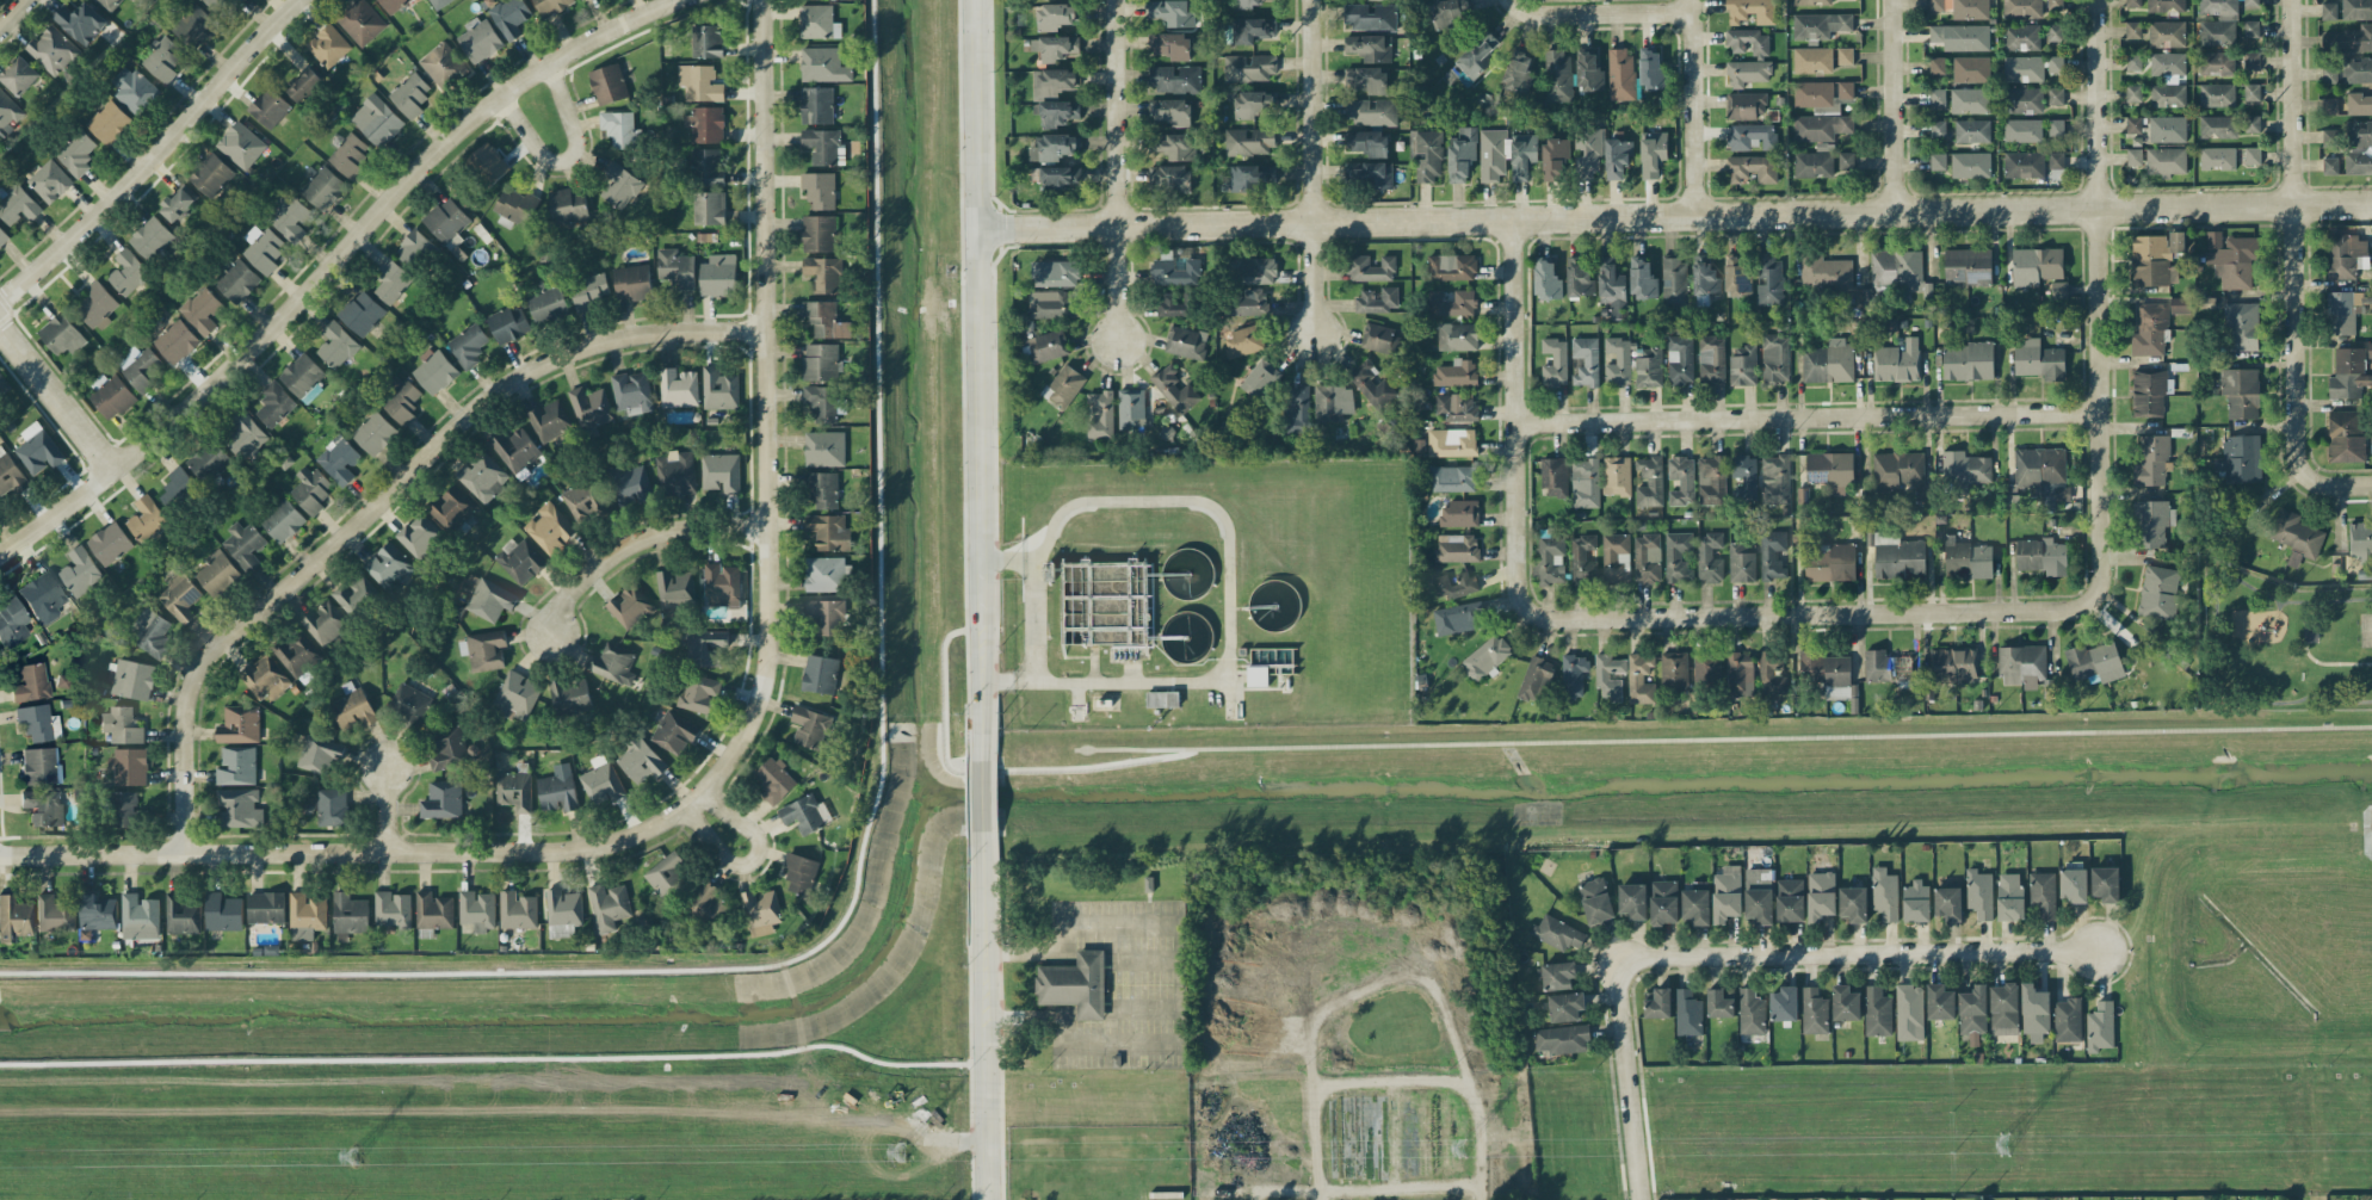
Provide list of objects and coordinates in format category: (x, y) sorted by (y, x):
building: (438, 2)
building: (2055, 2)
building: (2132, 2)
building: (2250, 2)
building: (109, 4)
building: (1246, 4)
building: (222, 5)
building: (393, 5)
building: (2164, 5)
building: (551, 6)
building: (1962, 8)
building: (2022, 8)
building: (2356, 8)
road: (1527, 10)
building: (1173, 11)
building: (1451, 11)
building: (1752, 11)
building: (2329, 11)
road: (12, 12)
road: (1619, 13)
building: (1055, 16)
building: (1370, 16)
building: (511, 17)
building: (81, 21)
building: (360, 21)
building: (817, 21)
building: (2218, 21)
building: (1820, 24)
road: (1897, 24)
building: (193, 25)
building: (2250, 27)
building: (1253, 29)
building: (2132, 29)
building: (2056, 32)
building: (2166, 33)
building: (1960, 37)
building: (2021, 37)
building: (480, 39)
building: (2349, 39)
building: (706, 41)
building: (1748, 41)
building: (328, 45)
building: (1170, 45)
building: (1055, 47)
building: (1370, 47)
building: (52, 49)
building: (1845, 55)
building: (162, 57)
building: (1812, 58)
building: (2251, 60)
building: (1471, 61)
building: (2132, 61)
building: (2217, 62)
building: (2056, 63)
building: (2167, 63)
building: (443, 64)
building: (823, 64)
building: (1936, 64)
building: (1249, 67)
building: (2022, 68)
building: (1971, 69)
building: (2356, 69)
building: (1518, 72)
building: (1651, 72)
building: (1747, 72)
building: (1589, 73)
building: (1620, 73)
building: (2329, 73)
building: (19, 74)
building: (1557, 75)
building: (1173, 78)
building: (1369, 79)
building: (1054, 81)
building: (699, 82)
building: (607, 83)
building: (304, 85)
building: (132, 89)
building: (2133, 92)
building: (2251, 92)
building: (410, 93)
building: (1821, 93)
building: (2168, 94)
building: (2217, 94)
building: (2055, 95)
building: (1938, 97)
building: (1970, 100)
building: (2024, 100)
building: (1255, 103)
building: (2359, 103)
building: (816, 104)
road: (2101, 104)
building: (1744, 105)
building: (2329, 105)
building: (268, 106)
road: (1699, 106)
building: (7, 110)
building: (1170, 111)
building: (1370, 111)
building: (1057, 112)
building: (376, 119)
building: (109, 122)
building: (2251, 123)
building: (705, 124)
building: (2133, 124)
building: (1821, 126)
building: (2056, 126)
building: (2218, 126)
building: (1938, 128)
building: (619, 129)
road: (1901, 129)
building: (2167, 129)
building: (1971, 130)
building: (2022, 130)
building: (2358, 132)
building: (1752, 136)
building: (2329, 137)
building: (1247, 141)
building: (1369, 143)
building: (241, 144)
building: (824, 146)
building: (1054, 146)
building: (1175, 146)
building: (76, 151)
building: (1587, 153)
building: (1653, 153)
building: (350, 154)
building: (1460, 154)
road: (155, 155)
building: (1491, 155)
building: (1522, 155)
building: (2251, 155)
road: (567, 156)
building: (1428, 156)
building: (1555, 156)
building: (1617, 157)
building: (2217, 157)
building: (2056, 159)
building: (1846, 160)
building: (1938, 160)
building: (2158, 160)
building: (2358, 161)
building: (488, 162)
road: (2293, 162)
building: (1814, 163)
building: (2024, 163)
building: (1970, 165)
building: (2330, 165)
building: (706, 167)
road: (1310, 167)
building: (1753, 167)
road: (1118, 171)
building: (211, 174)
building: (1373, 174)
building: (1061, 177)
building: (1172, 177)
building: (1252, 177)
building: (50, 180)
building: (619, 185)
building: (322, 187)
building: (819, 188)
building: (17, 203)
building: (178, 203)
road: (2237, 204)
building: (513, 205)
building: (568, 206)
building: (709, 206)
road: (1540, 216)
building: (289, 217)
building: (446, 219)
building: (819, 233)
building: (2, 236)
building: (150, 237)
building: (414, 248)
building: (265, 249)
building: (2343, 253)
building: (2157, 258)
building: (2231, 259)
building: (2037, 264)
road: (333, 266)
building: (1452, 266)
building: (1968, 266)
building: (675, 267)
building: (1371, 268)
building: (1253, 270)
building: (128, 272)
building: (1055, 272)
building: (1175, 272)
building: (1824, 272)
building: (1894, 272)
building: (824, 273)
building: (718, 274)
building: (1705, 274)
building: (1737, 276)
building: (1579, 277)
building: (1643, 279)
building: (1768, 279)
building: (237, 280)
building: (391, 280)
building: (1548, 280)
building: (1674, 280)
building: (632, 282)
building: (1611, 286)
building: (2059, 289)
building: (591, 290)
building: (1378, 299)
building: (548, 302)
building: (1246, 302)
building: (1453, 302)
building: (1050, 303)
building: (2181, 304)
building: (95, 305)
building: (1174, 305)
building: (202, 309)
building: (2343, 310)
building: (362, 311)
building: (824, 318)
building: (507, 323)
building: (2241, 326)
building: (2150, 329)
building: (62, 334)
building: (1458, 336)
building: (1380, 338)
building: (175, 340)
building: (1243, 340)
building: (1186, 341)
building: (468, 344)
building: (336, 345)
building: (1045, 346)
building: (2370, 348)
building: (1774, 357)
building: (1711, 358)
building: (2039, 359)
building: (820, 360)
building: (1586, 360)
building: (1680, 360)
building: (1968, 360)
building: (1555, 361)
building: (1618, 361)
building: (1897, 361)
building: (1827, 363)
building: (1743, 365)
building: (1648, 366)
building: (141, 367)
building: (434, 371)
building: (1456, 372)
building: (2348, 372)
building: (301, 373)
road: (978, 378)
building: (1260, 378)
building: (2, 383)
building: (1372, 384)
building: (1063, 385)
building: (678, 386)
building: (719, 388)
building: (1174, 388)
road: (60, 389)
building: (632, 390)
building: (2150, 391)
building: (2240, 391)
building: (111, 395)
building: (402, 401)
building: (821, 402)
building: (1333, 402)
road: (2293, 402)
building: (274, 403)
road: (2104, 404)
building: (1457, 407)
building: (589, 408)
building: (1131, 408)
building: (1296, 409)
building: (1100, 414)
road: (1520, 414)
road: (1812, 415)
road: (764, 417)
building: (549, 420)
building: (373, 432)
building: (246, 435)
building: (2346, 435)
building: (1452, 441)
building: (38, 449)
building: (515, 449)
building: (824, 449)
building: (338, 458)
building: (2241, 459)
building: (209, 460)
building: (2151, 460)
building: (2039, 465)
building: (1896, 469)
building: (1831, 470)
building: (1965, 470)
building: (721, 471)
building: (675, 472)
building: (10, 475)
building: (1617, 475)
building: (482, 476)
building: (1555, 476)
building: (1452, 477)
building: (1743, 477)
building: (1775, 478)
building: (1681, 480)
building: (1711, 480)
building: (1649, 481)
building: (1585, 482)
road: (2337, 483)
building: (629, 484)
building: (177, 485)
building: (310, 488)
building: (822, 488)
building: (2062, 491)
building: (1923, 493)
building: (583, 499)
road: (385, 500)
building: (451, 508)
building: (1459, 513)
building: (147, 518)
building: (283, 520)
building: (2150, 522)
building: (550, 528)
building: (829, 531)
building: (419, 534)
building: (2297, 536)
road: (637, 539)
building: (2360, 539)
building: (110, 542)
building: (243, 544)
building: (1456, 546)
building: (1771, 555)
building: (1897, 555)
building: (2041, 555)
building: (1678, 556)
building: (1582, 557)
building: (1647, 557)
building: (1709, 557)
building: (519, 558)
building: (1550, 558)
building: (1616, 558)
building: (1966, 558)
building: (1742, 562)
building: (1831, 563)
building: (388, 567)
building: (80, 570)
building: (217, 573)
building: (824, 574)
building: (722, 583)
road: (1228, 583)
building: (1453, 584)
building: (675, 587)
wastewater plant: (1204, 592)
building: (2158, 592)
building: (356, 594)
building: (43, 595)
building: (180, 596)
building: (487, 596)
building: (1104, 602)
road: (2279, 605)
building: (630, 606)
road: (1814, 611)
building: (828, 616)
building: (1458, 617)
building: (12, 620)
road: (1033, 620)
building: (325, 621)
road: (2217, 629)
park: (2366, 629)
building: (153, 631)
building: (705, 647)
building: (487, 649)
building: (297, 652)
building: (1485, 656)
road: (2314, 657)
building: (2095, 661)
building: (612, 663)
building: (1954, 664)
building: (2021, 664)
building: (1706, 667)
building: (1674, 670)
building: (1772, 672)
building: (820, 673)
building: (1740, 673)
building: (1828, 673)
building: (1574, 674)
building: (1256, 675)
building: (1602, 675)
building: (264, 678)
building: (1641, 678)
building: (132, 679)
building: (1536, 679)
building: (31, 681)
building: (699, 693)
building: (568, 694)
building: (515, 695)
building: (1162, 698)
building: (408, 705)
building: (351, 706)
building: (38, 720)
building: (122, 724)
building: (239, 724)
building: (810, 726)
building: (673, 734)
road: (1722, 737)
building: (445, 747)
building: (319, 753)
building: (640, 759)
building: (38, 765)
building: (129, 765)
building: (236, 766)
building: (774, 779)
building: (601, 780)
building: (557, 788)
building: (514, 790)
river: (1120, 794)
road: (983, 797)
building: (441, 799)
building: (43, 806)
building: (332, 806)
road: (387, 806)
building: (237, 808)
building: (125, 809)
building: (803, 814)
road: (345, 849)
road: (752, 859)
building: (799, 872)
building: (668, 874)
building: (2106, 883)
building: (2074, 884)
building: (1884, 892)
building: (1979, 892)
building: (1727, 893)
building: (2043, 893)
building: (1821, 895)
building: (2009, 897)
building: (1595, 899)
building: (1633, 899)
building: (1790, 899)
building: (1664, 901)
building: (1916, 901)
building: (1948, 902)
building: (708, 903)
building: (1697, 903)
building: (1854, 903)
building: (1759, 904)
building: (609, 905)
building: (266, 907)
building: (393, 909)
building: (477, 909)
building: (432, 910)
building: (517, 910)
building: (760, 910)
building: (97, 911)
building: (223, 911)
building: (563, 911)
building: (55, 913)
building: (350, 913)
building: (180, 915)
building: (307, 915)
building: (138, 916)
building: (14, 917)
building: (1557, 933)
road: (1858, 953)
building: (1558, 975)
road: (1178, 979)
building: (1074, 984)
building: (1940, 1001)
building: (1846, 1002)
building: (1656, 1003)
building: (1719, 1003)
building: (1784, 1003)
building: (1565, 1006)
building: (2003, 1008)
building: (1814, 1010)
building: (1877, 1010)
building: (1688, 1012)
building: (1752, 1012)
building: (1909, 1012)
building: (1973, 1012)
building: (2034, 1012)
road: (988, 1017)
building: (2067, 1019)
building: (2100, 1026)
building: (1562, 1038)
road: (1626, 1081)
power tower: (2022, 1145)
power tower: (1462, 1149)
power tower: (900, 1152)
power tower: (353, 1157)

